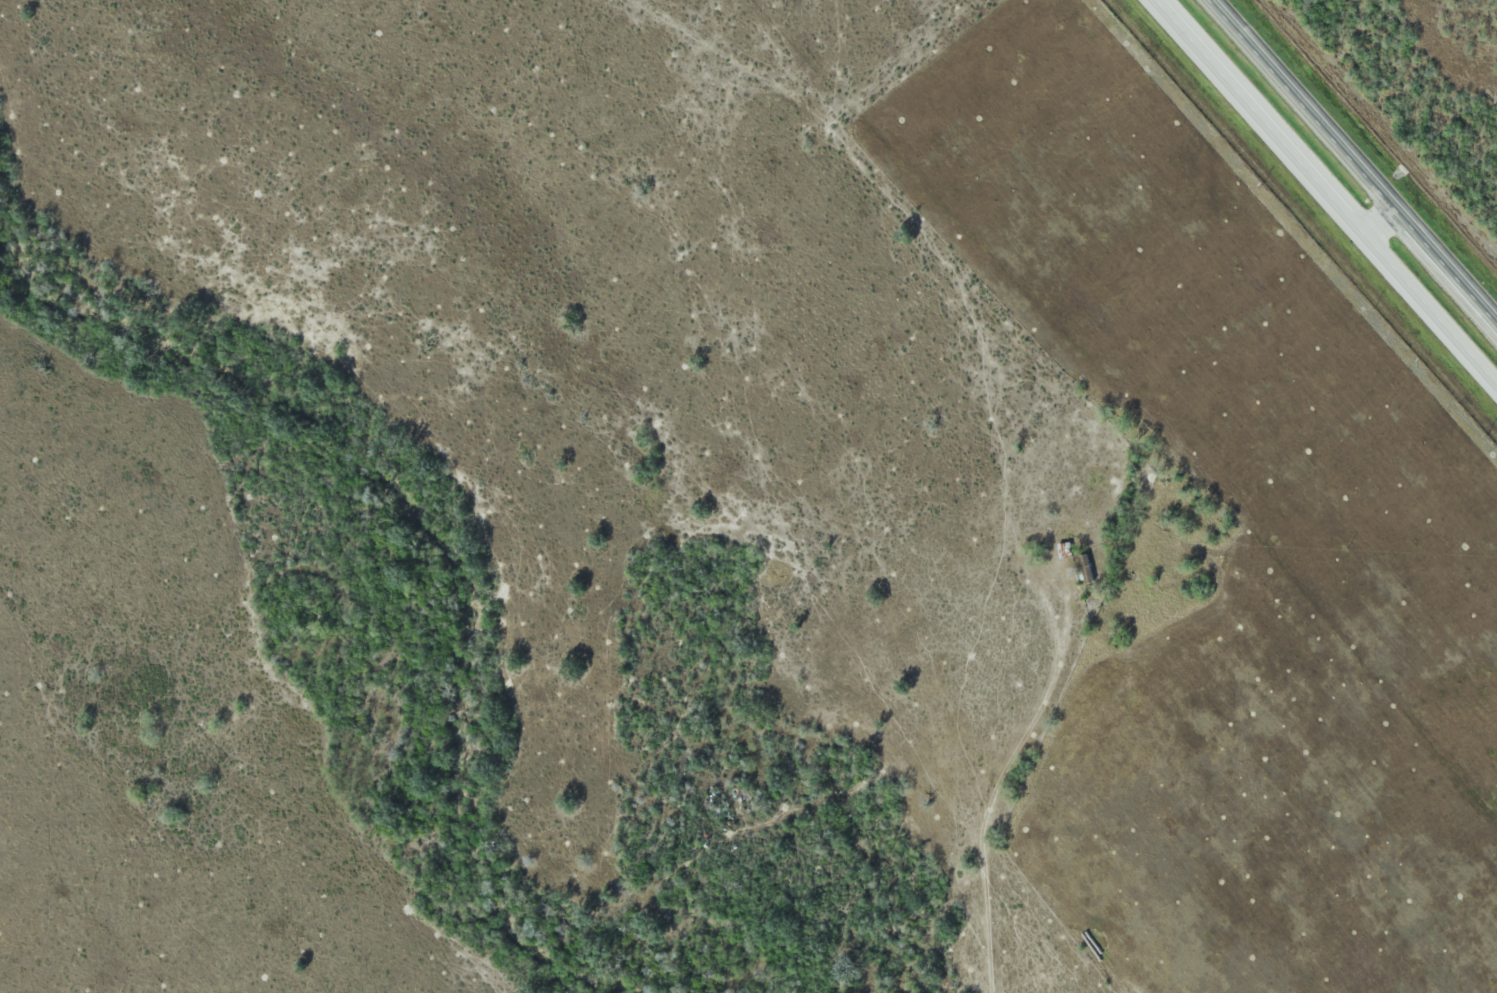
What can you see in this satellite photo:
road: (1357, 157)
road: (1327, 191)
road: (1378, 215)
building: (1088, 569)
road: (992, 795)

